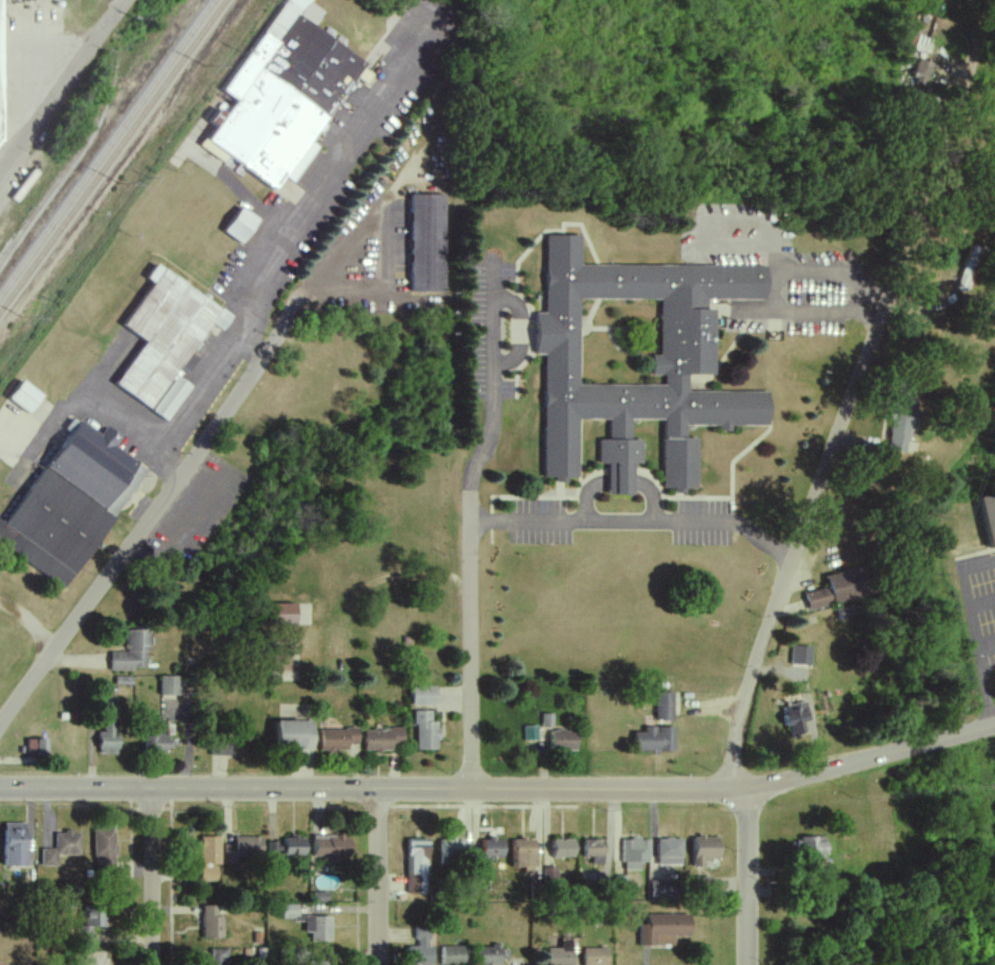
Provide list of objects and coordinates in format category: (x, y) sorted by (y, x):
building: (922, 72)
road: (61, 88)
building: (283, 96)
building: (0, 98)
railway: (83, 138)
railway: (108, 149)
railway: (116, 152)
road: (392, 222)
building: (242, 225)
building: (428, 243)
road: (269, 254)
road: (803, 276)
railway: (3, 309)
building: (166, 340)
road: (248, 344)
building: (680, 364)
road: (854, 384)
road: (497, 391)
building: (25, 397)
building: (899, 433)
road: (154, 502)
building: (72, 503)
building: (989, 517)
road: (637, 522)
building: (840, 590)
building: (284, 614)
road: (470, 642)
building: (132, 653)
building: (803, 656)
building: (282, 659)
building: (169, 686)
building: (424, 696)
building: (665, 707)
building: (799, 718)
building: (547, 720)
building: (425, 731)
building: (530, 733)
building: (295, 735)
building: (108, 739)
building: (338, 739)
building: (382, 739)
building: (564, 740)
building: (656, 740)
building: (157, 743)
building: (219, 747)
building: (36, 748)
road: (867, 758)
road: (370, 786)
building: (15, 845)
building: (61, 847)
building: (331, 847)
building: (103, 848)
building: (288, 848)
building: (493, 848)
building: (564, 848)
building: (243, 850)
building: (705, 850)
building: (813, 850)
building: (595, 851)
building: (670, 852)
building: (450, 853)
building: (635, 853)
building: (524, 854)
building: (209, 858)
building: (417, 866)
road: (747, 868)
road: (150, 875)
building: (550, 875)
road: (378, 876)
building: (703, 882)
building: (662, 890)
building: (320, 897)
building: (290, 911)
building: (211, 922)
building: (90, 923)
building: (318, 928)
building: (665, 930)
park: (17, 942)
building: (420, 949)
building: (562, 954)
building: (490, 955)
building: (219, 956)
building: (455, 956)
building: (596, 956)
building: (94, 958)
building: (321, 963)

